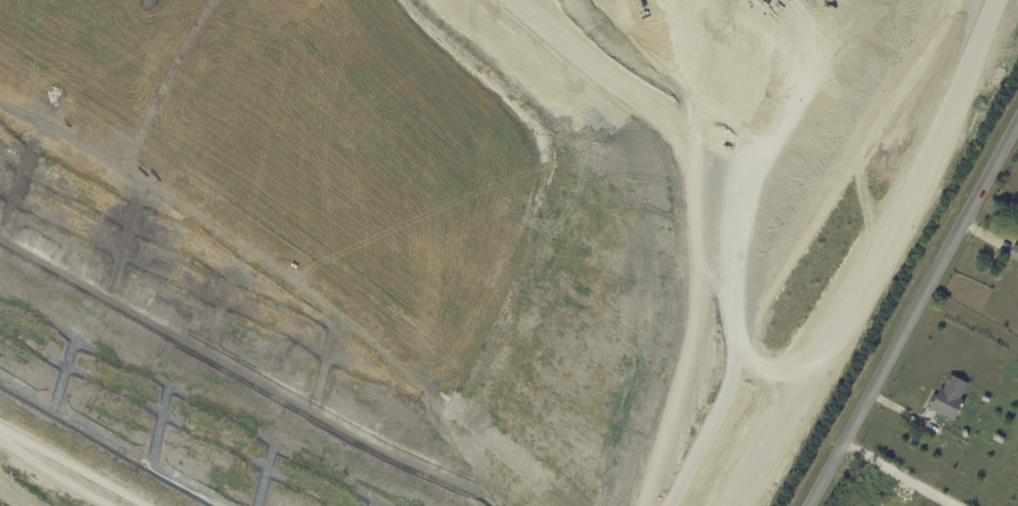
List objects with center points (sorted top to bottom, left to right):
landfill: (418, 241)
building: (1015, 253)
road: (911, 313)
building: (986, 398)
building: (950, 399)
building: (966, 434)
building: (999, 438)
road: (63, 470)
road: (903, 471)

